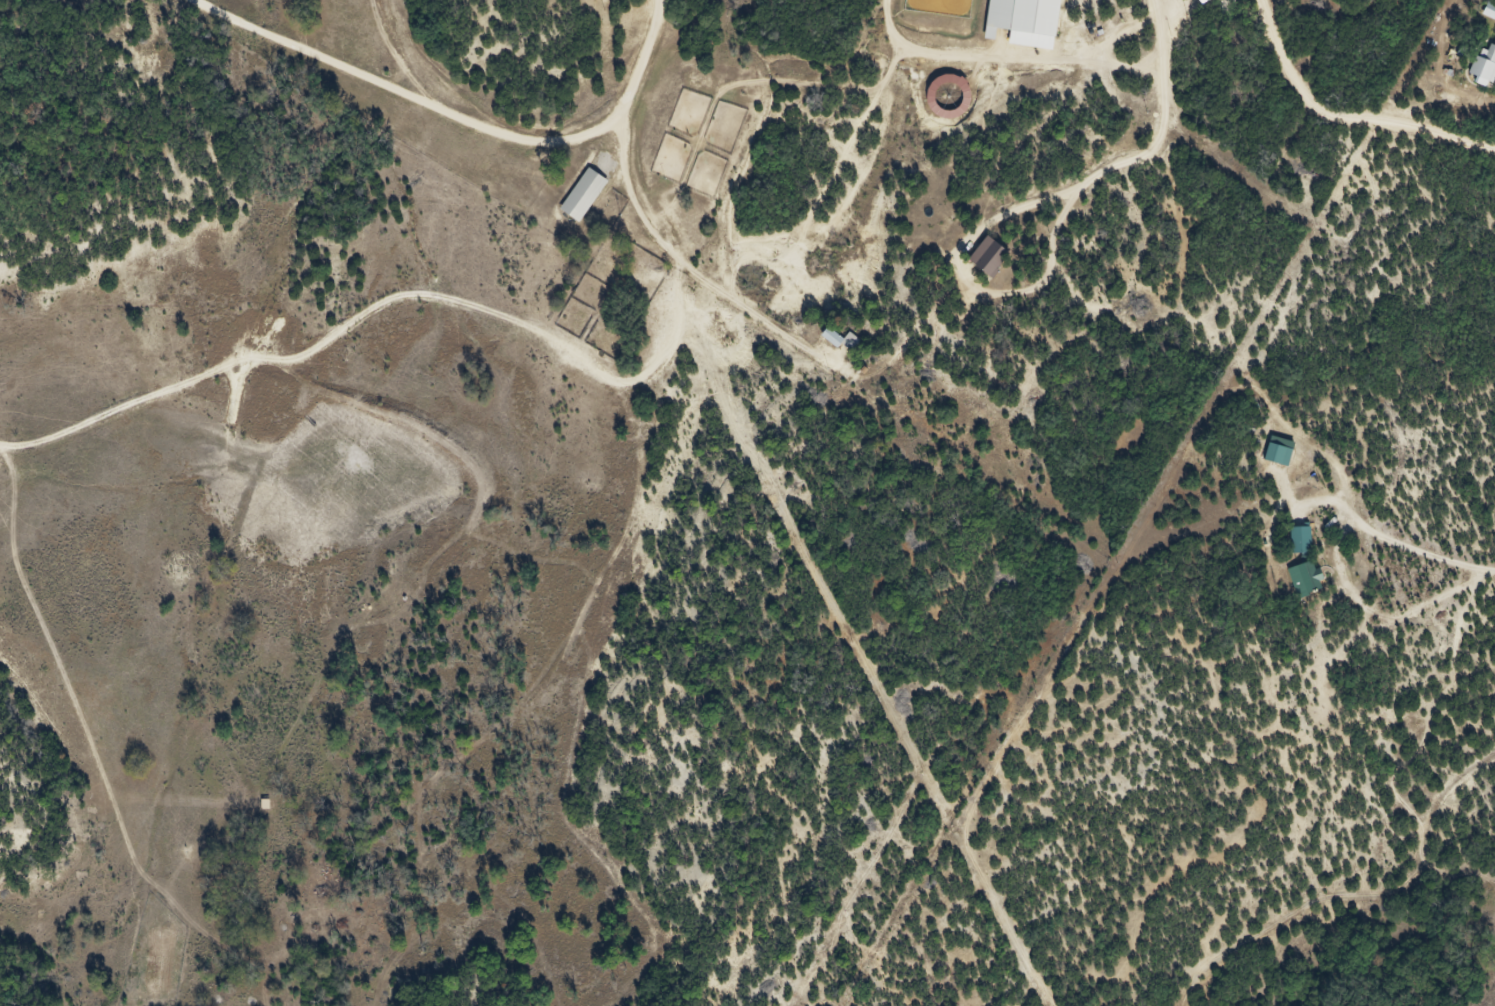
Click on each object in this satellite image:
building: (1027, 19)
building: (1486, 61)
road: (464, 120)
road: (1342, 121)
building: (575, 200)
road: (460, 305)
building: (831, 345)
building: (1292, 545)

